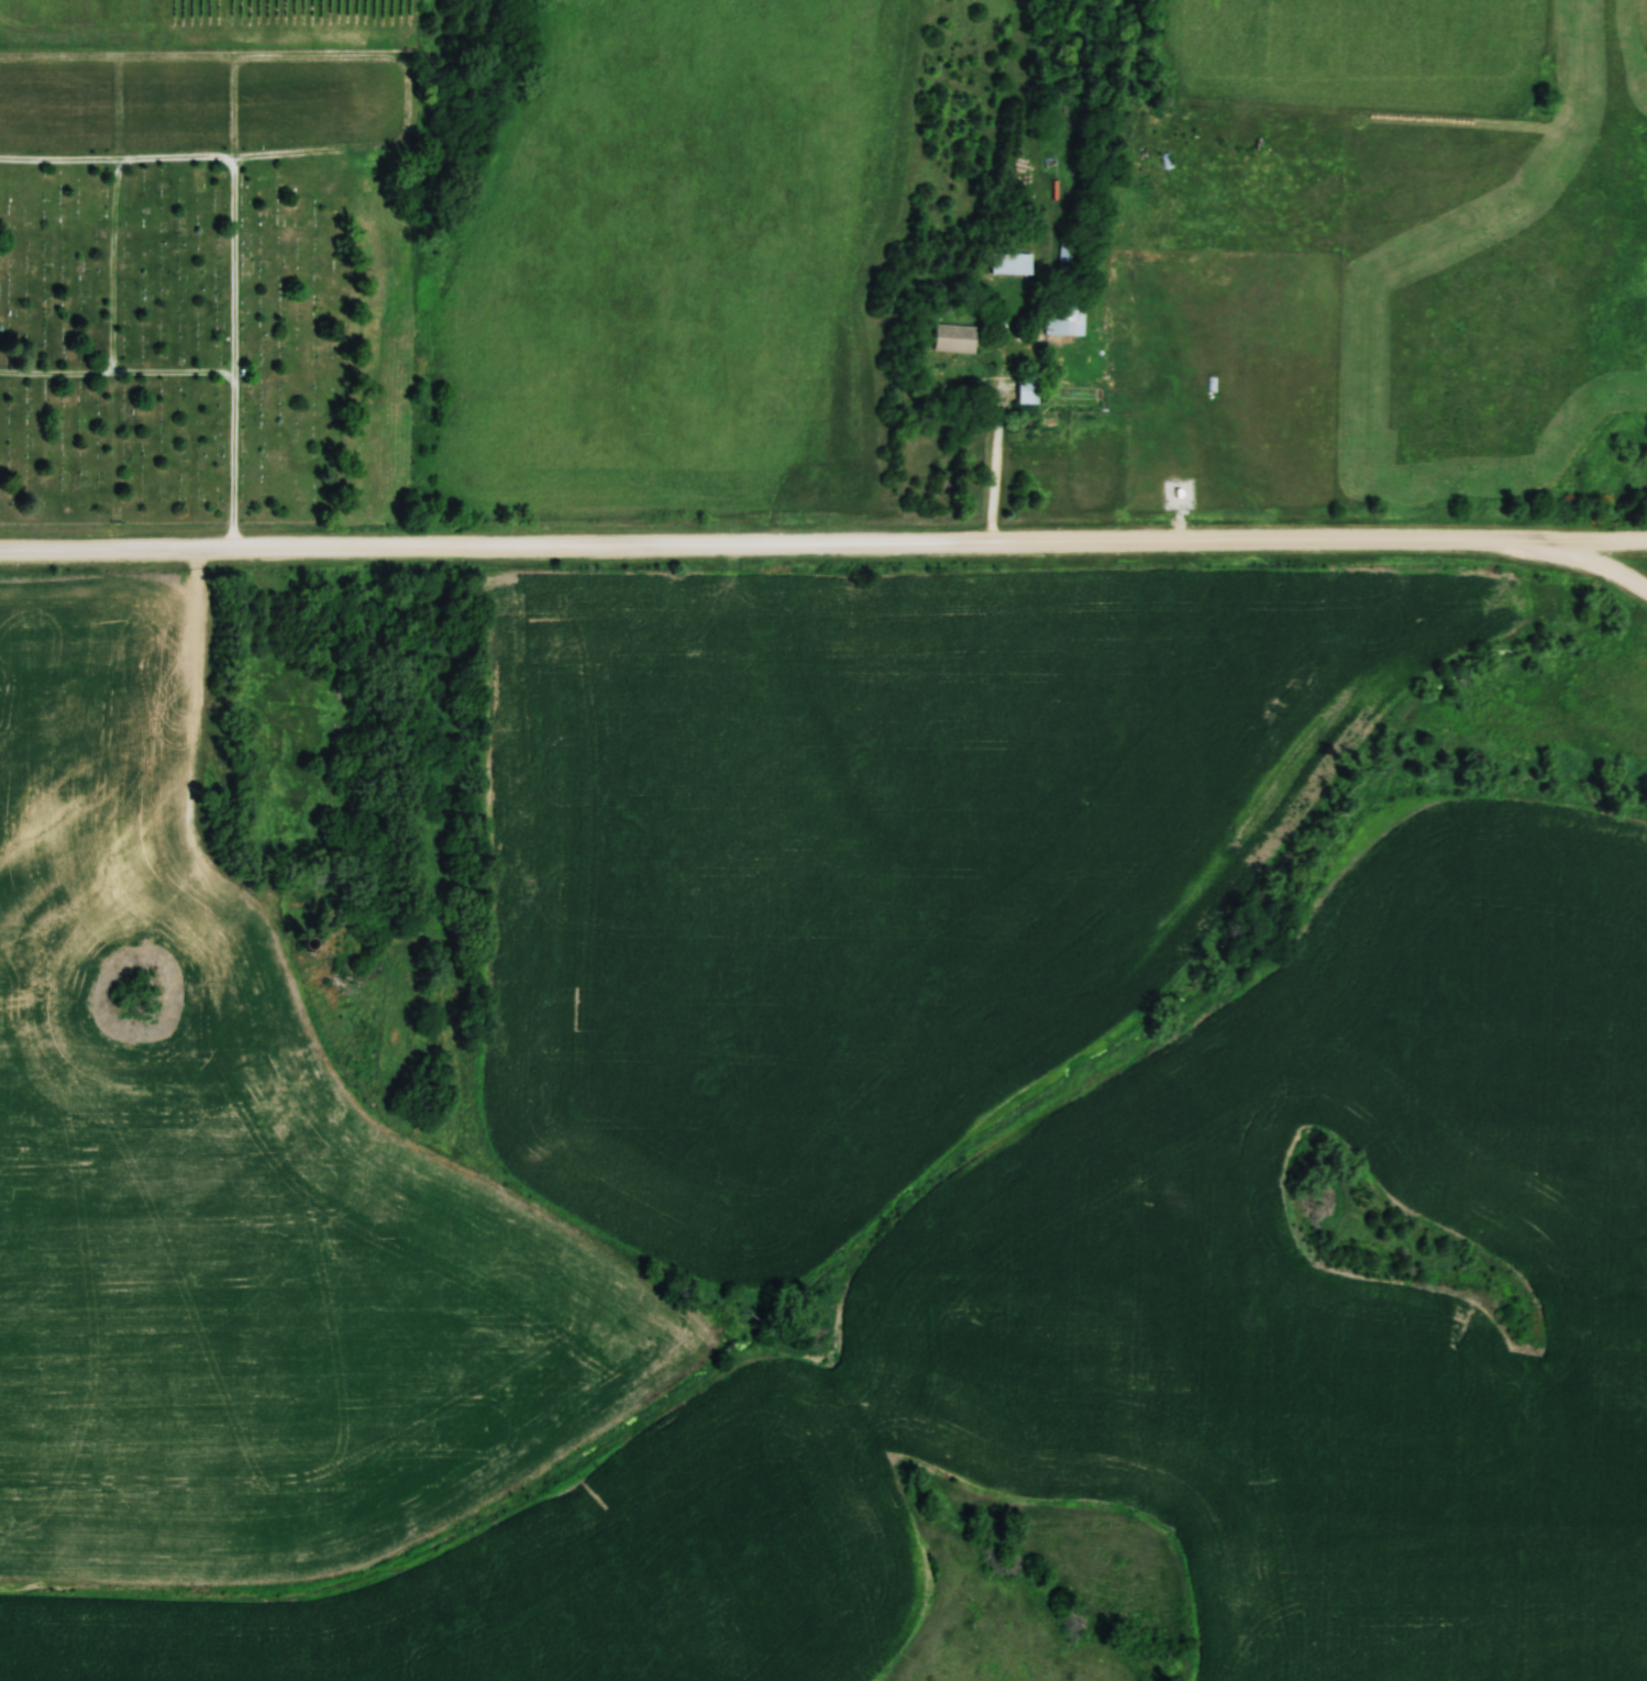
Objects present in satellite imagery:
building: (1012, 264)
park: (218, 290)
building: (1064, 320)
building: (953, 339)
building: (1027, 391)
road: (997, 464)
road: (1570, 538)
road: (747, 542)
road: (1572, 552)
building: (320, 975)

